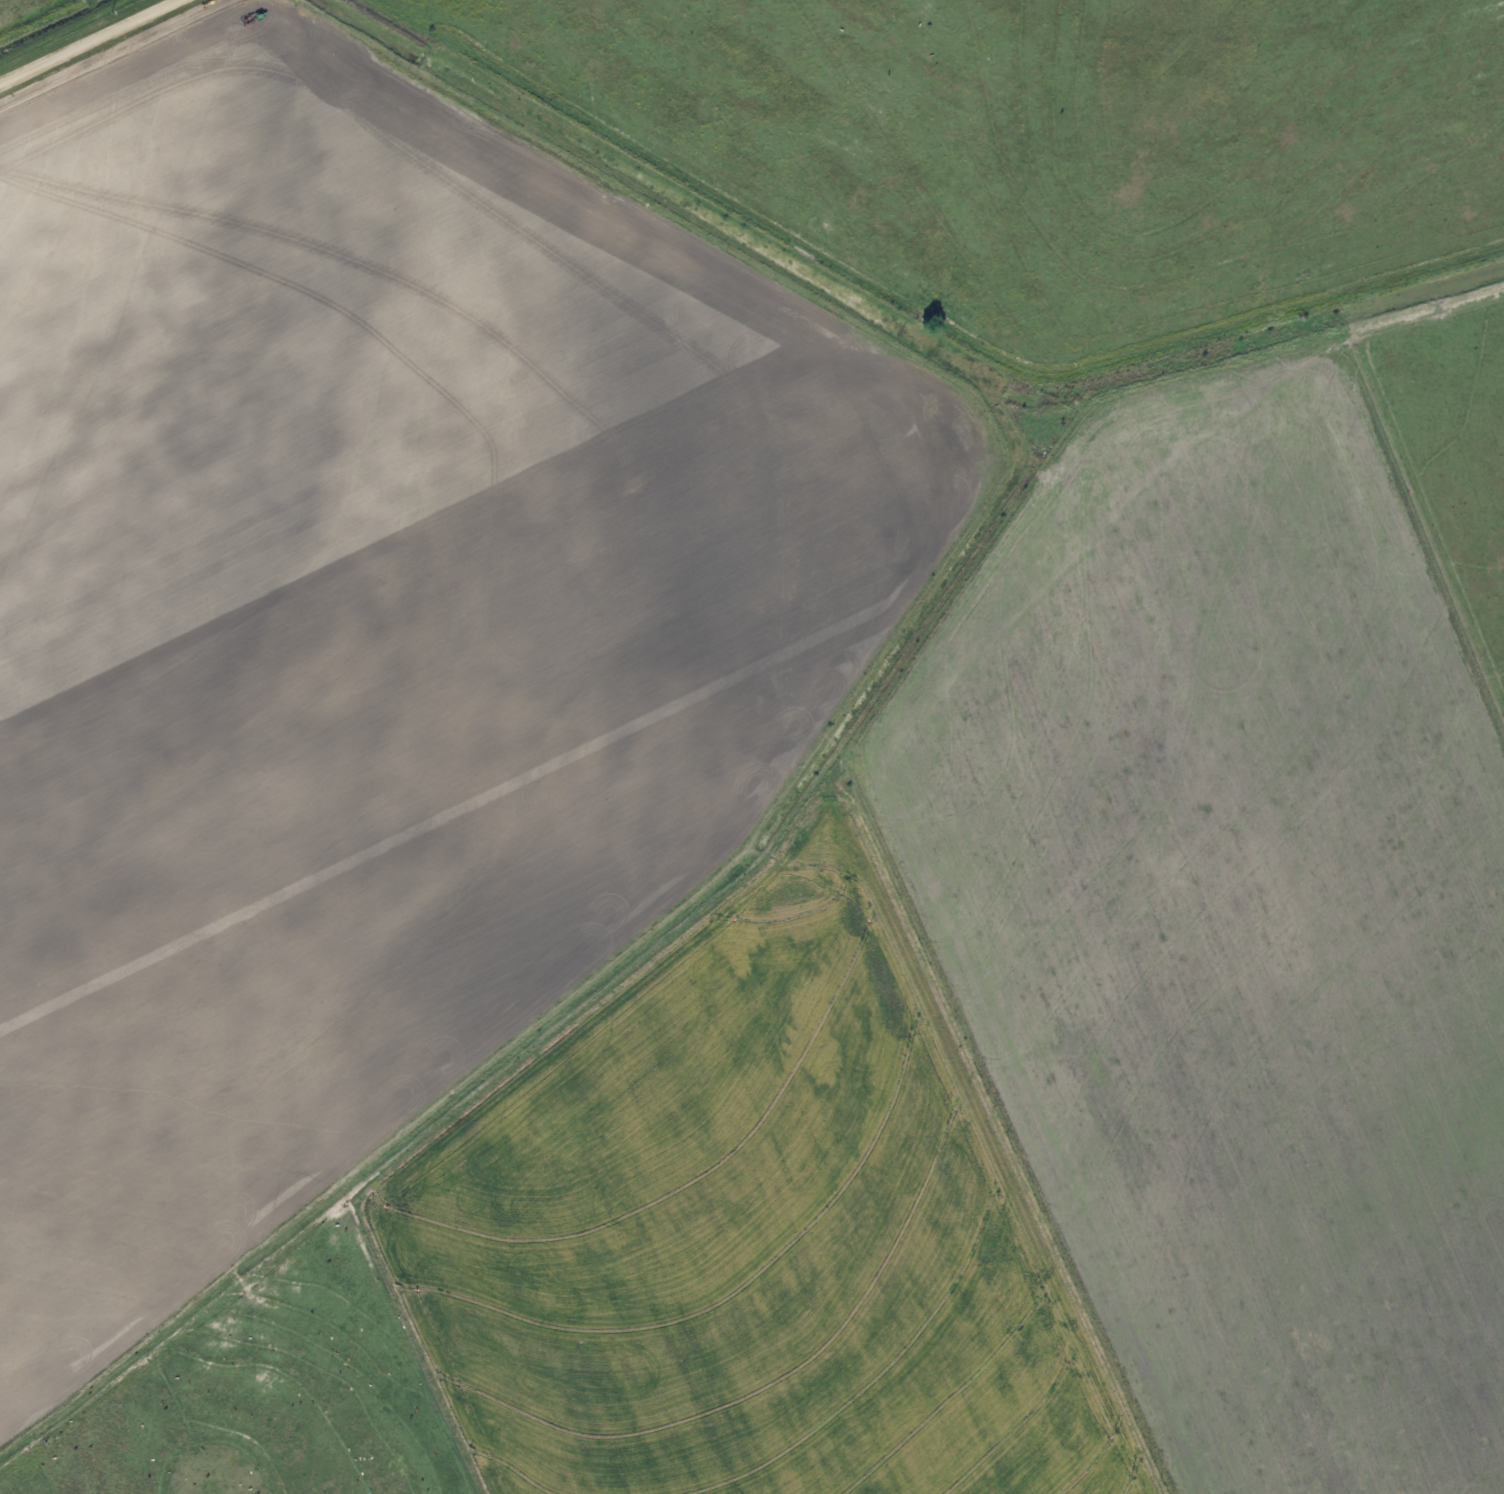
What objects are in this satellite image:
road: (83, 38)

